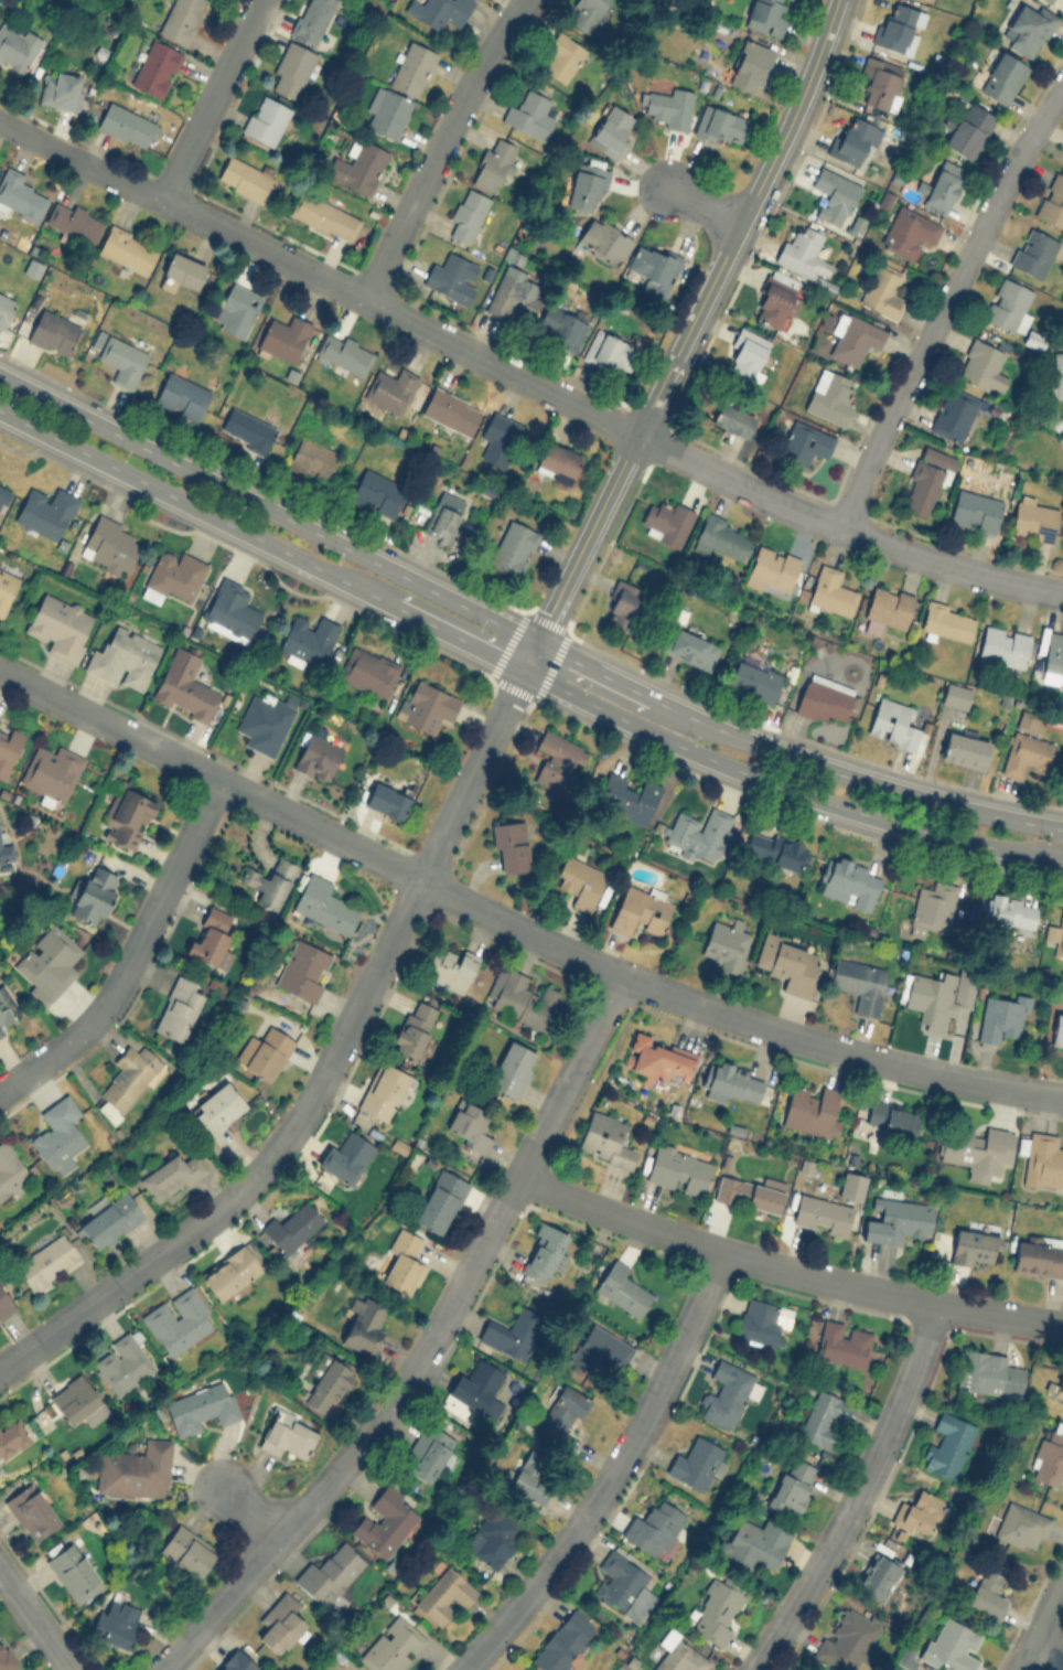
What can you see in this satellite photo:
building: (1048, 1)
building: (438, 11)
building: (584, 13)
building: (765, 15)
building: (180, 19)
building: (311, 19)
building: (898, 26)
building: (1028, 28)
building: (562, 56)
building: (750, 65)
building: (155, 67)
building: (411, 67)
building: (291, 68)
building: (1001, 77)
building: (879, 82)
building: (61, 89)
road: (212, 97)
building: (666, 106)
building: (386, 111)
building: (530, 114)
building: (266, 119)
building: (720, 124)
building: (127, 125)
building: (968, 129)
building: (611, 130)
building: (853, 141)
road: (438, 142)
road: (79, 160)
building: (492, 163)
building: (357, 165)
building: (247, 178)
building: (586, 183)
building: (943, 186)
building: (834, 194)
building: (20, 196)
building: (1052, 201)
road: (702, 206)
building: (466, 214)
building: (324, 216)
building: (74, 221)
building: (908, 231)
building: (604, 239)
building: (127, 248)
building: (802, 251)
building: (1033, 251)
building: (653, 265)
building: (183, 269)
building: (452, 277)
building: (882, 290)
building: (514, 292)
building: (774, 301)
road: (945, 301)
building: (1008, 304)
building: (4, 307)
building: (236, 309)
road: (691, 322)
building: (560, 326)
building: (52, 332)
building: (283, 338)
building: (855, 338)
building: (610, 351)
building: (343, 353)
building: (747, 356)
building: (121, 360)
building: (980, 364)
building: (1057, 373)
building: (390, 388)
building: (181, 395)
building: (829, 396)
building: (450, 409)
building: (953, 413)
road: (603, 416)
building: (732, 419)
building: (246, 429)
building: (498, 438)
building: (1061, 438)
building: (804, 441)
building: (312, 458)
building: (556, 461)
building: (926, 479)
building: (377, 492)
building: (2, 494)
road: (267, 507)
building: (975, 510)
building: (45, 511)
building: (442, 516)
building: (666, 521)
building: (1033, 521)
building: (722, 537)
building: (108, 544)
building: (1062, 547)
building: (514, 548)
building: (772, 566)
building: (172, 577)
building: (7, 587)
building: (830, 591)
building: (622, 604)
building: (885, 608)
building: (230, 610)
building: (946, 621)
building: (60, 625)
building: (308, 640)
building: (1003, 645)
building: (689, 646)
road: (528, 654)
building: (1052, 657)
building: (124, 659)
road: (518, 666)
road: (593, 668)
building: (367, 671)
building: (753, 681)
building: (184, 686)
building: (955, 695)
building: (825, 698)
building: (426, 705)
building: (265, 720)
building: (892, 722)
building: (965, 748)
building: (9, 749)
building: (1027, 753)
building: (316, 754)
building: (557, 760)
building: (51, 771)
road: (211, 774)
road: (852, 775)
building: (626, 796)
building: (387, 800)
building: (126, 815)
building: (700, 833)
building: (509, 846)
building: (775, 849)
building: (6, 852)
building: (579, 880)
building: (269, 881)
building: (848, 881)
building: (93, 893)
building: (323, 904)
building: (931, 907)
building: (641, 909)
building: (1006, 912)
building: (210, 934)
building: (1055, 935)
building: (724, 943)
road: (132, 952)
building: (47, 963)
building: (788, 963)
building: (454, 965)
building: (302, 968)
building: (860, 983)
building: (964, 993)
building: (930, 998)
building: (524, 1000)
building: (176, 1008)
building: (8, 1009)
road: (733, 1017)
building: (1001, 1017)
building: (412, 1029)
building: (1057, 1031)
building: (264, 1051)
building: (658, 1059)
building: (512, 1068)
road: (325, 1071)
building: (127, 1081)
building: (729, 1081)
building: (383, 1091)
building: (216, 1107)
building: (810, 1111)
building: (890, 1116)
building: (468, 1124)
building: (57, 1133)
building: (605, 1138)
building: (976, 1148)
building: (344, 1157)
building: (1042, 1159)
building: (10, 1168)
building: (678, 1169)
building: (171, 1175)
building: (750, 1192)
building: (439, 1200)
building: (822, 1213)
building: (109, 1218)
building: (895, 1219)
building: (290, 1227)
building: (973, 1246)
building: (544, 1252)
building: (1038, 1254)
building: (402, 1261)
building: (46, 1262)
road: (786, 1267)
building: (229, 1271)
building: (621, 1288)
building: (4, 1302)
building: (178, 1319)
building: (758, 1320)
building: (364, 1323)
building: (512, 1332)
building: (841, 1342)
road: (425, 1348)
building: (601, 1353)
building: (122, 1363)
building: (988, 1372)
building: (326, 1382)
building: (475, 1385)
building: (1057, 1391)
building: (724, 1393)
building: (77, 1401)
building: (201, 1406)
building: (560, 1411)
building: (824, 1417)
building: (287, 1434)
building: (11, 1435)
building: (947, 1445)
building: (428, 1452)
building: (1049, 1458)
building: (696, 1463)
building: (135, 1469)
road: (610, 1471)
building: (533, 1475)
building: (791, 1486)
road: (857, 1494)
building: (31, 1510)
road: (255, 1511)
building: (916, 1511)
building: (385, 1521)
building: (1021, 1526)
building: (653, 1528)
building: (491, 1538)
building: (755, 1544)
building: (187, 1550)
building: (73, 1572)
building: (329, 1573)
building: (877, 1576)
building: (616, 1581)
building: (987, 1592)
building: (444, 1595)
building: (716, 1609)
road: (36, 1621)
building: (115, 1621)
building: (280, 1624)
road: (1041, 1627)
building: (846, 1640)
building: (562, 1641)
building: (391, 1645)
building: (951, 1646)
building: (6, 1657)
building: (679, 1657)
road: (1046, 1659)
building: (237, 1661)
building: (525, 1669)

